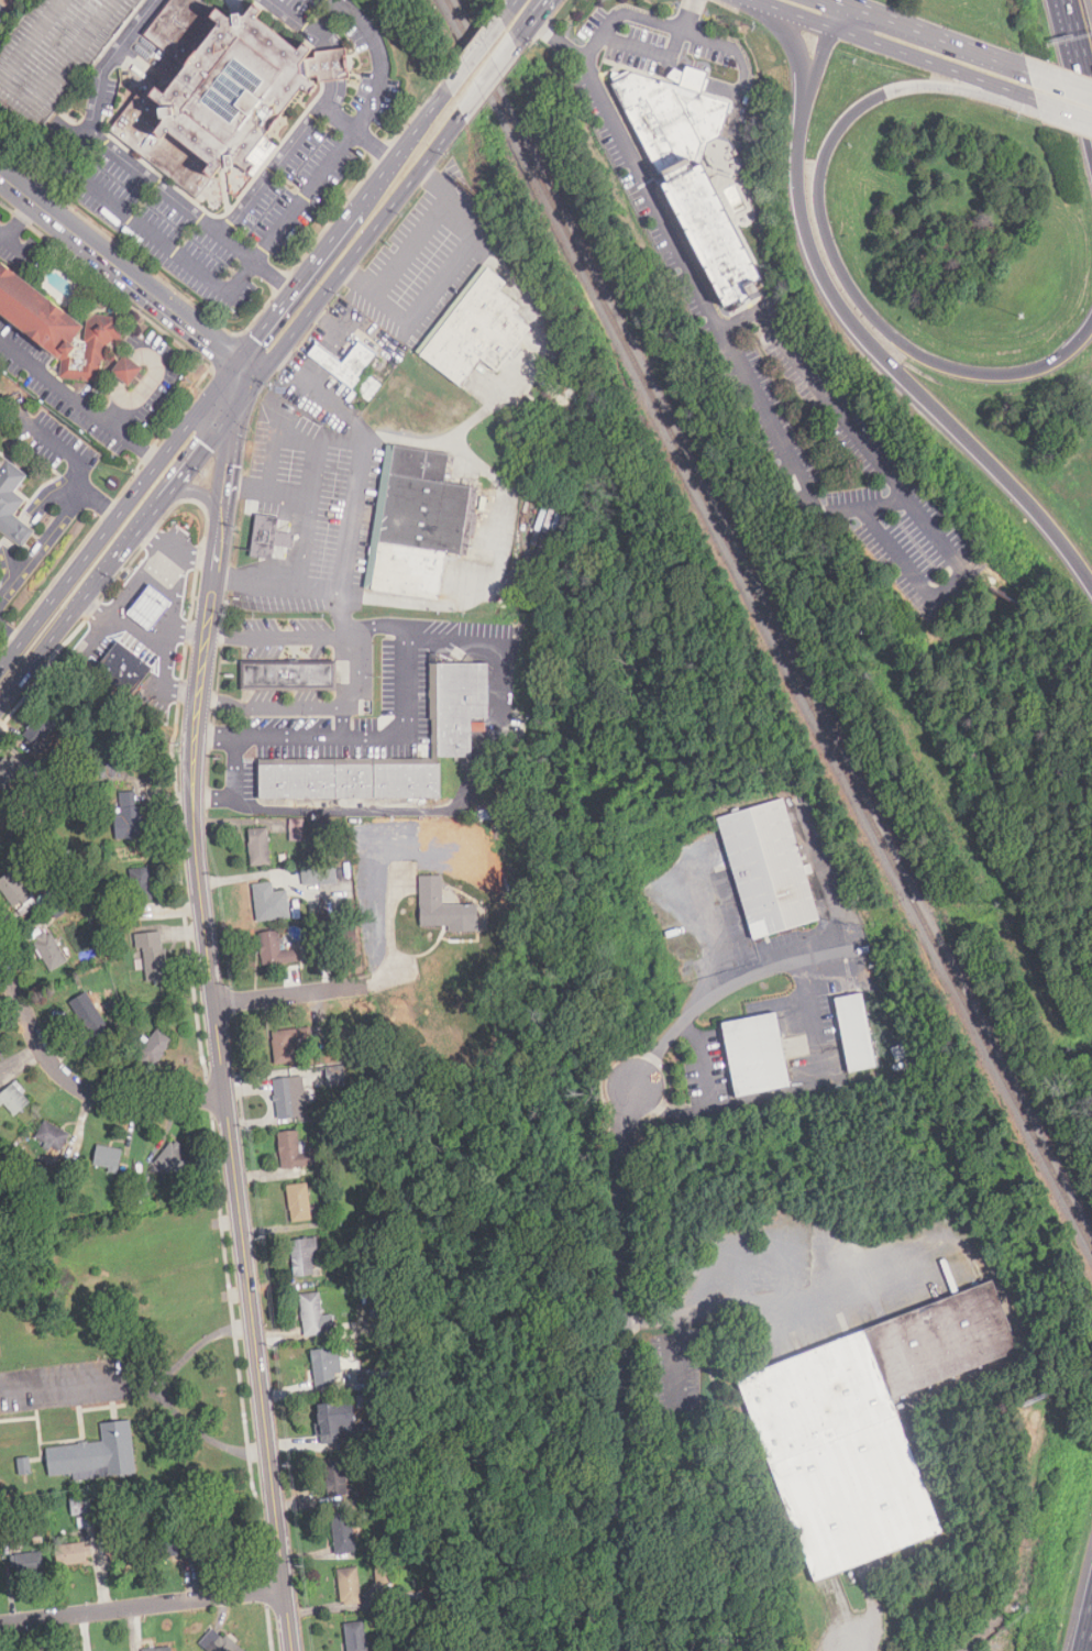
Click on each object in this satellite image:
road: (754, 2)
road: (507, 9)
road: (832, 15)
road: (794, 16)
road: (530, 21)
road: (324, 23)
road: (927, 34)
road: (559, 38)
road: (795, 44)
building: (54, 52)
parking garage: (54, 52)
road: (474, 53)
road: (731, 58)
road: (631, 60)
road: (1076, 60)
road: (334, 63)
road: (816, 63)
road: (931, 65)
road: (487, 75)
road: (691, 78)
road: (1060, 80)
building: (213, 86)
road: (332, 91)
road: (1065, 112)
road: (423, 117)
road: (613, 126)
road: (351, 135)
road: (442, 135)
road: (97, 136)
road: (373, 143)
road: (284, 153)
road: (65, 164)
road: (418, 168)
building: (696, 169)
road: (359, 199)
road: (19, 220)
road: (379, 221)
road: (164, 243)
road: (408, 245)
road: (15, 247)
road: (255, 262)
road: (838, 266)
road: (117, 269)
road: (306, 272)
road: (444, 276)
road: (328, 290)
street lamp: (1019, 316)
road: (263, 326)
building: (58, 327)
building: (476, 329)
traffic signals: (255, 338)
traffic signals: (209, 342)
road: (282, 344)
building: (345, 362)
building: (126, 367)
road: (890, 367)
road: (244, 370)
road: (140, 397)
road: (79, 401)
road: (277, 432)
road: (205, 442)
traffic signals: (203, 444)
road: (320, 445)
road: (66, 449)
traffic signals: (229, 465)
road: (478, 469)
road: (355, 478)
road: (878, 483)
road: (268, 485)
road: (201, 495)
building: (12, 503)
road: (118, 515)
building: (423, 519)
road: (922, 520)
road: (54, 529)
road: (128, 537)
building: (269, 537)
road: (305, 540)
road: (887, 546)
road: (173, 551)
road: (295, 586)
road: (124, 597)
road: (173, 605)
building: (147, 608)
railway: (770, 621)
road: (189, 631)
road: (51, 636)
road: (8, 641)
road: (165, 659)
building: (124, 669)
building: (294, 671)
road: (408, 671)
building: (460, 704)
road: (317, 708)
road: (343, 723)
building: (38, 728)
road: (214, 737)
building: (109, 768)
building: (9, 770)
building: (349, 780)
road: (232, 784)
road: (466, 791)
building: (129, 816)
building: (296, 829)
building: (258, 846)
building: (768, 868)
building: (318, 874)
building: (140, 885)
building: (13, 891)
building: (268, 902)
building: (443, 906)
building: (48, 949)
building: (275, 949)
building: (151, 953)
road: (289, 993)
road: (217, 1013)
building: (88, 1014)
building: (854, 1031)
road: (882, 1038)
building: (285, 1045)
building: (156, 1046)
building: (757, 1053)
road: (80, 1087)
road: (783, 1092)
building: (290, 1098)
building: (13, 1099)
road: (670, 1113)
building: (52, 1135)
building: (289, 1148)
building: (107, 1156)
building: (173, 1158)
building: (299, 1201)
road: (619, 1218)
building: (304, 1255)
road: (730, 1301)
building: (311, 1313)
road: (676, 1356)
building: (327, 1367)
road: (80, 1391)
road: (164, 1397)
building: (337, 1422)
building: (865, 1428)
building: (96, 1454)
building: (333, 1475)
building: (80, 1506)
building: (85, 1520)
building: (342, 1533)
building: (166, 1543)
building: (121, 1548)
building: (67, 1553)
building: (26, 1562)
building: (383, 1573)
building: (349, 1585)
road: (143, 1605)
road: (982, 1629)
road: (1088, 1633)
building: (355, 1636)
building: (217, 1642)
building: (158, 1649)

